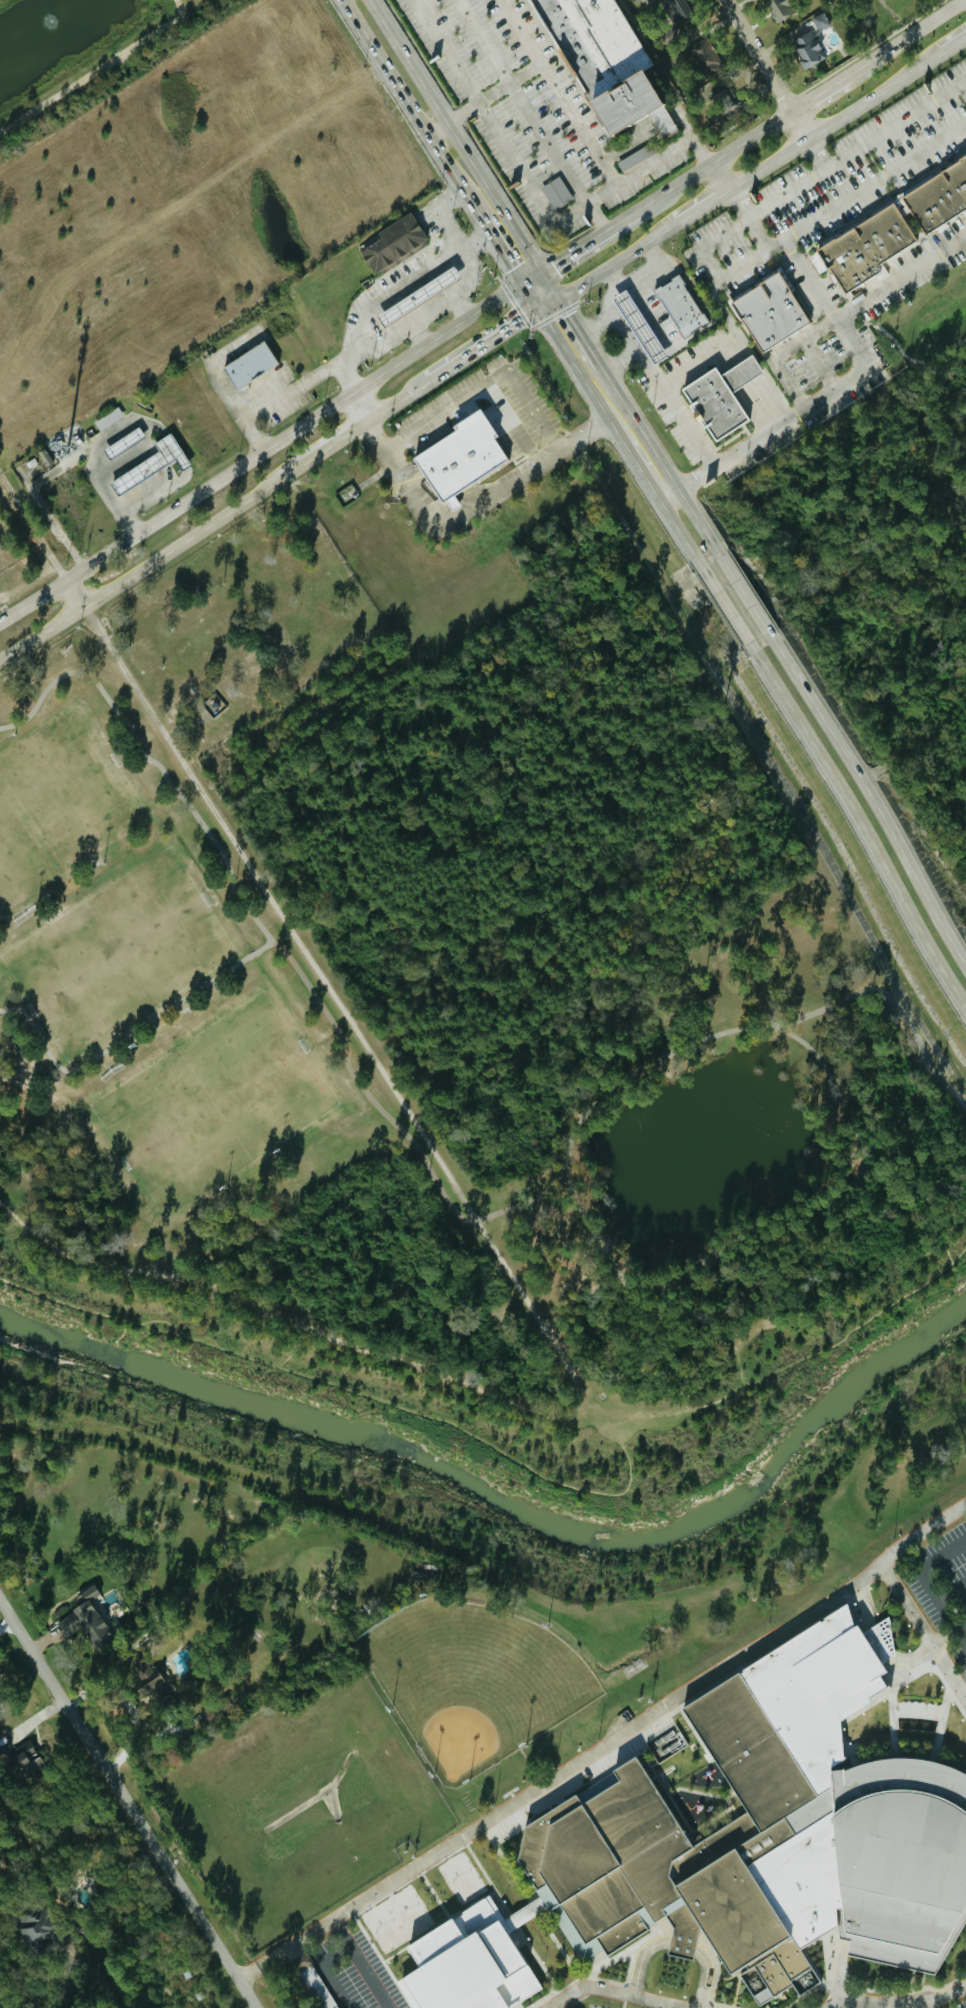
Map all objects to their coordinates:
building: (783, 8)
building: (677, 21)
road: (903, 38)
building: (811, 42)
road: (955, 44)
park: (70, 48)
building: (705, 59)
building: (601, 61)
road: (766, 68)
road: (91, 69)
road: (963, 87)
road: (565, 90)
road: (500, 92)
road: (817, 93)
building: (722, 99)
road: (410, 108)
road: (534, 115)
road: (833, 120)
road: (439, 130)
road: (505, 141)
road: (465, 149)
road: (855, 149)
road: (815, 153)
building: (636, 157)
road: (718, 160)
road: (875, 187)
building: (557, 192)
building: (939, 197)
road: (700, 206)
road: (746, 222)
road: (616, 225)
building: (393, 243)
building: (866, 247)
road: (500, 250)
road: (564, 257)
road: (616, 260)
road: (645, 269)
traffic signals: (539, 273)
road: (530, 278)
road: (900, 278)
road: (408, 283)
traffic signals: (521, 284)
road: (453, 296)
traffic signals: (557, 300)
road: (547, 305)
building: (680, 306)
road: (459, 308)
road: (652, 310)
traffic signals: (538, 311)
building: (769, 311)
road: (514, 324)
road: (573, 325)
road: (594, 325)
road: (731, 325)
building: (638, 327)
road: (421, 333)
road: (900, 346)
road: (780, 354)
building: (249, 364)
road: (620, 364)
road: (817, 364)
road: (572, 365)
road: (648, 371)
road: (427, 379)
road: (483, 386)
building: (721, 397)
road: (280, 399)
building: (109, 418)
road: (773, 426)
road: (341, 436)
building: (126, 441)
road: (651, 447)
road: (260, 454)
building: (459, 457)
building: (152, 463)
road: (641, 475)
road: (102, 481)
road: (142, 495)
road: (668, 496)
road: (443, 519)
road: (674, 527)
road: (159, 556)
road: (742, 592)
road: (75, 594)
road: (722, 603)
road: (872, 800)
park: (58, 807)
road: (863, 829)
road: (238, 896)
road: (306, 948)
park: (116, 951)
park: (171, 978)
road: (891, 1003)
park: (212, 1105)
road: (396, 1123)
road: (567, 1169)
road: (663, 1281)
road: (562, 1353)
road: (388, 1356)
road: (518, 1453)
river: (533, 1487)
road: (925, 1585)
parking lot: (943, 1585)
road: (951, 1592)
building: (88, 1617)
road: (922, 1633)
road: (948, 1636)
road: (875, 1647)
road: (930, 1664)
park: (473, 1681)
building: (151, 1682)
road: (604, 1745)
building: (25, 1761)
road: (126, 1804)
building: (741, 1843)
building: (38, 1926)
road: (677, 1945)
building: (302, 1961)
road: (359, 1963)
road: (321, 1971)
parking lot: (349, 1975)
road: (716, 1979)
road: (49, 1990)
road: (614, 1992)
road: (4, 2000)
road: (897, 2004)
road: (924, 2005)
parking lot: (959, 2005)
parking lot: (592, 2006)

